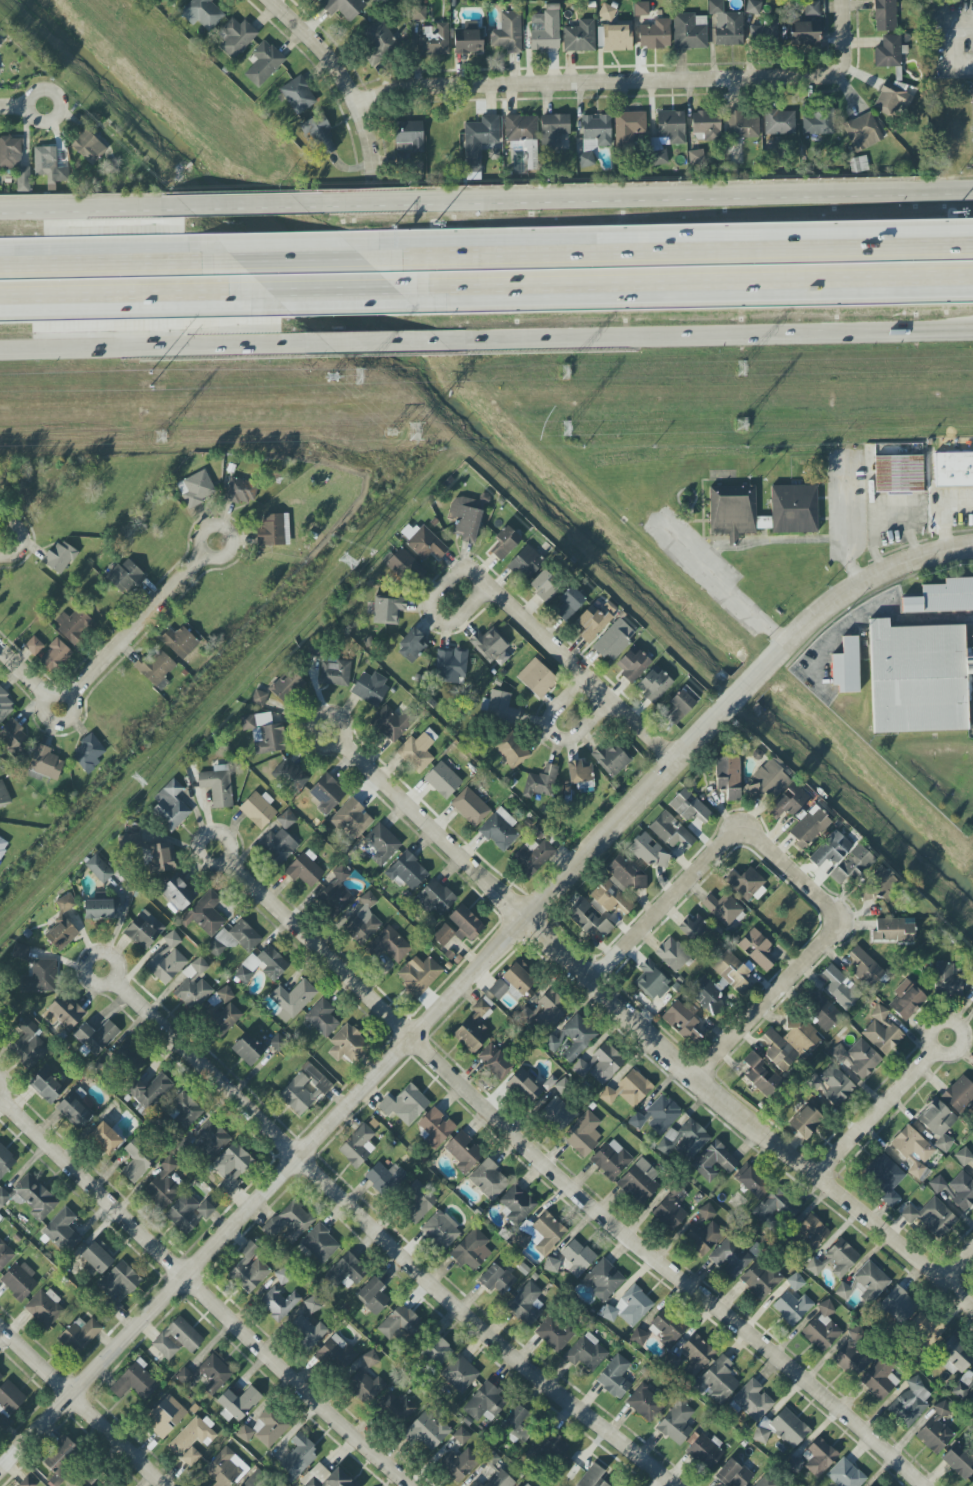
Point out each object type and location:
building: (181, 0)
building: (753, 6)
building: (344, 8)
building: (811, 8)
building: (641, 9)
building: (607, 12)
building: (202, 13)
building: (418, 13)
building: (884, 15)
building: (725, 25)
building: (545, 29)
building: (689, 31)
building: (763, 31)
building: (507, 32)
building: (805, 33)
building: (655, 34)
building: (236, 37)
building: (579, 37)
building: (615, 37)
building: (434, 40)
building: (379, 42)
building: (467, 42)
building: (888, 52)
road: (954, 54)
building: (263, 63)
road: (342, 76)
road: (635, 82)
road: (42, 91)
building: (299, 95)
building: (893, 97)
road: (13, 108)
building: (779, 122)
building: (818, 122)
building: (706, 124)
building: (742, 125)
building: (628, 127)
building: (521, 129)
building: (553, 130)
building: (862, 132)
building: (667, 135)
building: (409, 136)
building: (321, 137)
building: (594, 137)
building: (480, 144)
building: (87, 146)
building: (403, 158)
building: (532, 159)
building: (696, 159)
building: (14, 162)
building: (49, 166)
road: (635, 198)
road: (235, 205)
road: (86, 207)
road: (696, 257)
road: (325, 266)
road: (116, 270)
road: (694, 281)
road: (329, 290)
road: (121, 293)
road: (707, 335)
road: (375, 343)
road: (154, 347)
power tower: (736, 365)
power tower: (564, 369)
power tower: (358, 377)
power tower: (332, 378)
power tower: (155, 381)
power tower: (740, 423)
power tower: (564, 428)
power tower: (413, 431)
power tower: (392, 432)
power tower: (160, 436)
building: (953, 470)
building: (898, 474)
building: (196, 488)
building: (240, 491)
building: (793, 509)
building: (732, 511)
road: (946, 511)
building: (465, 518)
building: (273, 530)
road: (225, 532)
road: (885, 535)
road: (22, 541)
building: (505, 542)
building: (426, 544)
road: (846, 544)
building: (59, 557)
power tower: (349, 561)
building: (525, 563)
building: (406, 567)
building: (126, 576)
road: (485, 576)
road: (719, 584)
road: (857, 585)
building: (544, 586)
building: (942, 597)
building: (569, 603)
building: (387, 609)
road: (438, 621)
building: (591, 623)
building: (72, 625)
road: (139, 626)
building: (614, 640)
building: (179, 642)
building: (411, 645)
building: (489, 645)
building: (33, 646)
building: (315, 650)
building: (54, 656)
building: (632, 664)
building: (155, 666)
building: (450, 666)
building: (846, 667)
building: (334, 672)
road: (588, 677)
building: (537, 678)
building: (917, 678)
road: (31, 682)
building: (284, 684)
building: (654, 684)
road: (751, 686)
building: (370, 688)
building: (259, 699)
building: (681, 704)
building: (5, 705)
building: (501, 707)
road: (315, 721)
building: (390, 723)
road: (59, 725)
building: (265, 733)
road: (553, 734)
building: (13, 737)
building: (88, 751)
building: (512, 751)
building: (416, 752)
building: (612, 759)
building: (45, 763)
building: (578, 772)
building: (289, 773)
building: (728, 777)
building: (442, 780)
power tower: (141, 781)
building: (768, 781)
building: (540, 783)
building: (217, 787)
building: (327, 793)
building: (4, 795)
building: (788, 801)
building: (170, 806)
building: (470, 807)
building: (689, 807)
building: (257, 809)
building: (351, 818)
building: (286, 820)
building: (808, 827)
building: (499, 830)
building: (671, 831)
road: (199, 837)
building: (129, 841)
building: (382, 844)
building: (3, 846)
building: (278, 846)
building: (648, 851)
building: (532, 857)
building: (158, 858)
building: (841, 860)
building: (99, 869)
building: (305, 870)
building: (407, 872)
building: (746, 884)
building: (618, 885)
building: (879, 885)
building: (178, 893)
building: (335, 894)
building: (434, 898)
building: (65, 903)
road: (664, 903)
building: (101, 909)
building: (722, 909)
building: (205, 914)
building: (588, 919)
building: (362, 921)
building: (458, 927)
building: (693, 928)
building: (144, 930)
building: (893, 931)
building: (61, 936)
building: (235, 939)
building: (388, 945)
building: (757, 949)
building: (21, 951)
building: (672, 954)
road: (812, 954)
road: (90, 957)
building: (167, 960)
building: (262, 966)
building: (865, 968)
building: (734, 972)
building: (418, 975)
building: (40, 977)
building: (946, 980)
building: (651, 981)
building: (513, 982)
building: (193, 986)
building: (840, 988)
building: (706, 994)
building: (906, 999)
building: (292, 1000)
building: (551, 1009)
building: (821, 1010)
building: (221, 1011)
building: (63, 1012)
building: (322, 1018)
building: (683, 1023)
road: (957, 1025)
building: (473, 1029)
building: (881, 1031)
road: (646, 1035)
building: (576, 1037)
building: (96, 1038)
building: (278, 1042)
building: (790, 1042)
building: (349, 1043)
building: (552, 1043)
building: (28, 1045)
building: (247, 1050)
building: (128, 1058)
building: (857, 1058)
building: (495, 1062)
building: (600, 1064)
building: (761, 1075)
building: (316, 1077)
building: (47, 1085)
road: (366, 1085)
building: (831, 1085)
road: (1, 1086)
building: (525, 1086)
building: (628, 1090)
building: (149, 1091)
building: (959, 1094)
building: (297, 1095)
building: (405, 1105)
building: (74, 1111)
building: (182, 1112)
road: (880, 1112)
building: (556, 1114)
building: (805, 1121)
building: (937, 1123)
building: (435, 1128)
building: (583, 1134)
building: (105, 1138)
building: (687, 1139)
building: (209, 1141)
building: (357, 1146)
building: (913, 1150)
building: (463, 1152)
building: (964, 1158)
building: (611, 1159)
building: (5, 1161)
building: (137, 1161)
building: (714, 1162)
building: (231, 1167)
building: (384, 1177)
building: (885, 1178)
building: (488, 1179)
building: (639, 1181)
building: (753, 1183)
building: (163, 1185)
road: (565, 1185)
building: (955, 1189)
building: (415, 1204)
building: (516, 1204)
building: (774, 1209)
building: (706, 1211)
building: (188, 1213)
building: (669, 1213)
building: (930, 1217)
building: (289, 1222)
building: (441, 1230)
building: (61, 1231)
building: (540, 1233)
building: (812, 1235)
building: (705, 1236)
road: (385, 1242)
building: (320, 1244)
building: (471, 1250)
building: (5, 1255)
building: (577, 1257)
building: (97, 1258)
building: (729, 1258)
building: (835, 1260)
building: (551, 1265)
road: (960, 1266)
building: (249, 1270)
building: (345, 1272)
building: (496, 1279)
building: (760, 1279)
building: (603, 1280)
building: (19, 1281)
building: (119, 1281)
building: (871, 1281)
building: (794, 1284)
building: (843, 1291)
road: (203, 1295)
building: (373, 1296)
building: (278, 1303)
building: (527, 1304)
building: (899, 1304)
building: (311, 1305)
building: (628, 1307)
building: (791, 1307)
building: (45, 1308)
building: (399, 1323)
building: (926, 1327)
building: (666, 1328)
building: (822, 1328)
building: (307, 1331)
building: (554, 1332)
building: (79, 1334)
building: (638, 1337)
building: (177, 1338)
building: (435, 1351)
building: (586, 1352)
building: (336, 1354)
building: (696, 1355)
building: (954, 1356)
building: (370, 1359)
building: (851, 1359)
building: (672, 1362)
building: (214, 1373)
building: (459, 1374)
building: (1, 1376)
building: (614, 1377)
building: (879, 1380)
building: (135, 1381)
building: (717, 1382)
building: (365, 1385)
building: (10, 1398)
building: (752, 1401)
building: (484, 1402)
building: (910, 1402)
building: (645, 1403)
building: (238, 1404)
road: (81, 1406)
building: (396, 1408)
building: (165, 1416)
building: (3, 1423)
building: (519, 1423)
building: (676, 1423)
building: (788, 1427)
building: (264, 1429)
building: (427, 1431)
building: (935, 1431)
building: (192, 1435)
building: (761, 1435)
building: (548, 1447)
building: (704, 1451)
building: (61, 1457)
building: (190, 1457)
building: (818, 1457)
building: (298, 1458)
building: (959, 1461)
building: (459, 1464)
building: (794, 1465)
building: (225, 1468)
building: (732, 1474)
building: (845, 1474)
building: (498, 1475)
building: (326, 1477)
building: (592, 1477)
building: (27, 1482)
building: (765, 1482)
building: (249, 1483)
building: (108, 1484)
building: (476, 1484)
building: (523, 1484)
building: (872, 1485)

